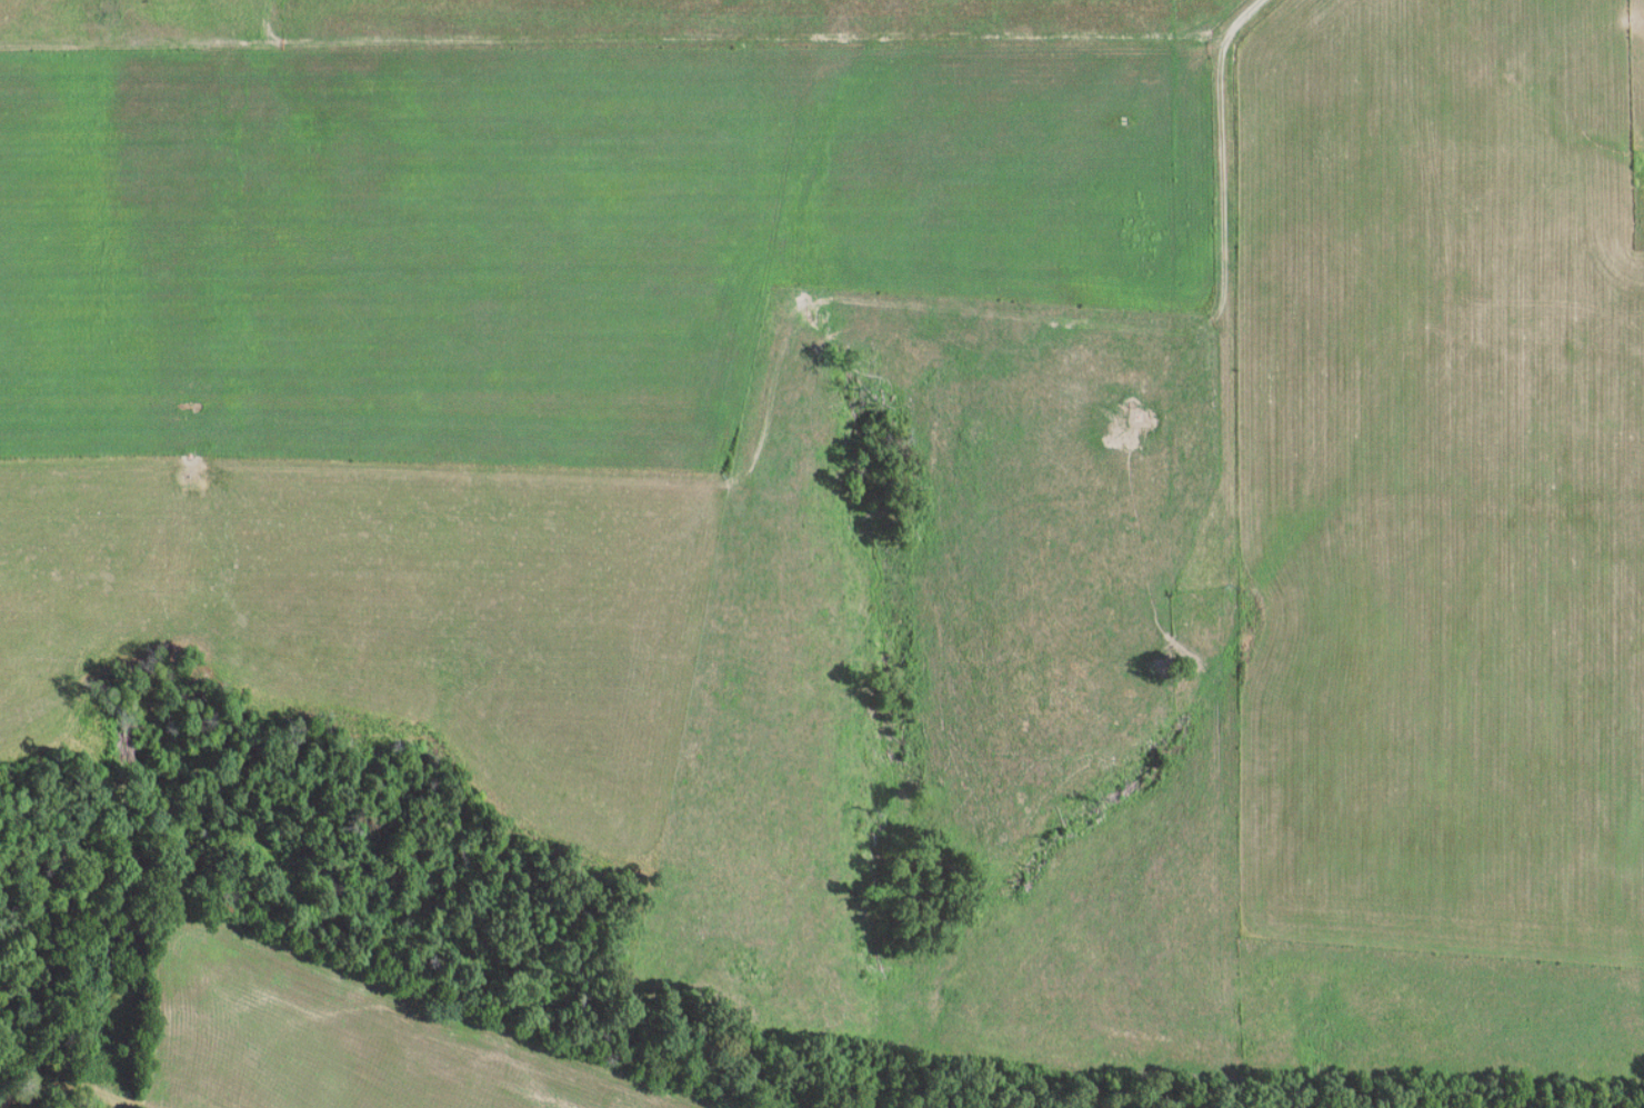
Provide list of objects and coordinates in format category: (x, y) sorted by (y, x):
road: (1236, 242)

